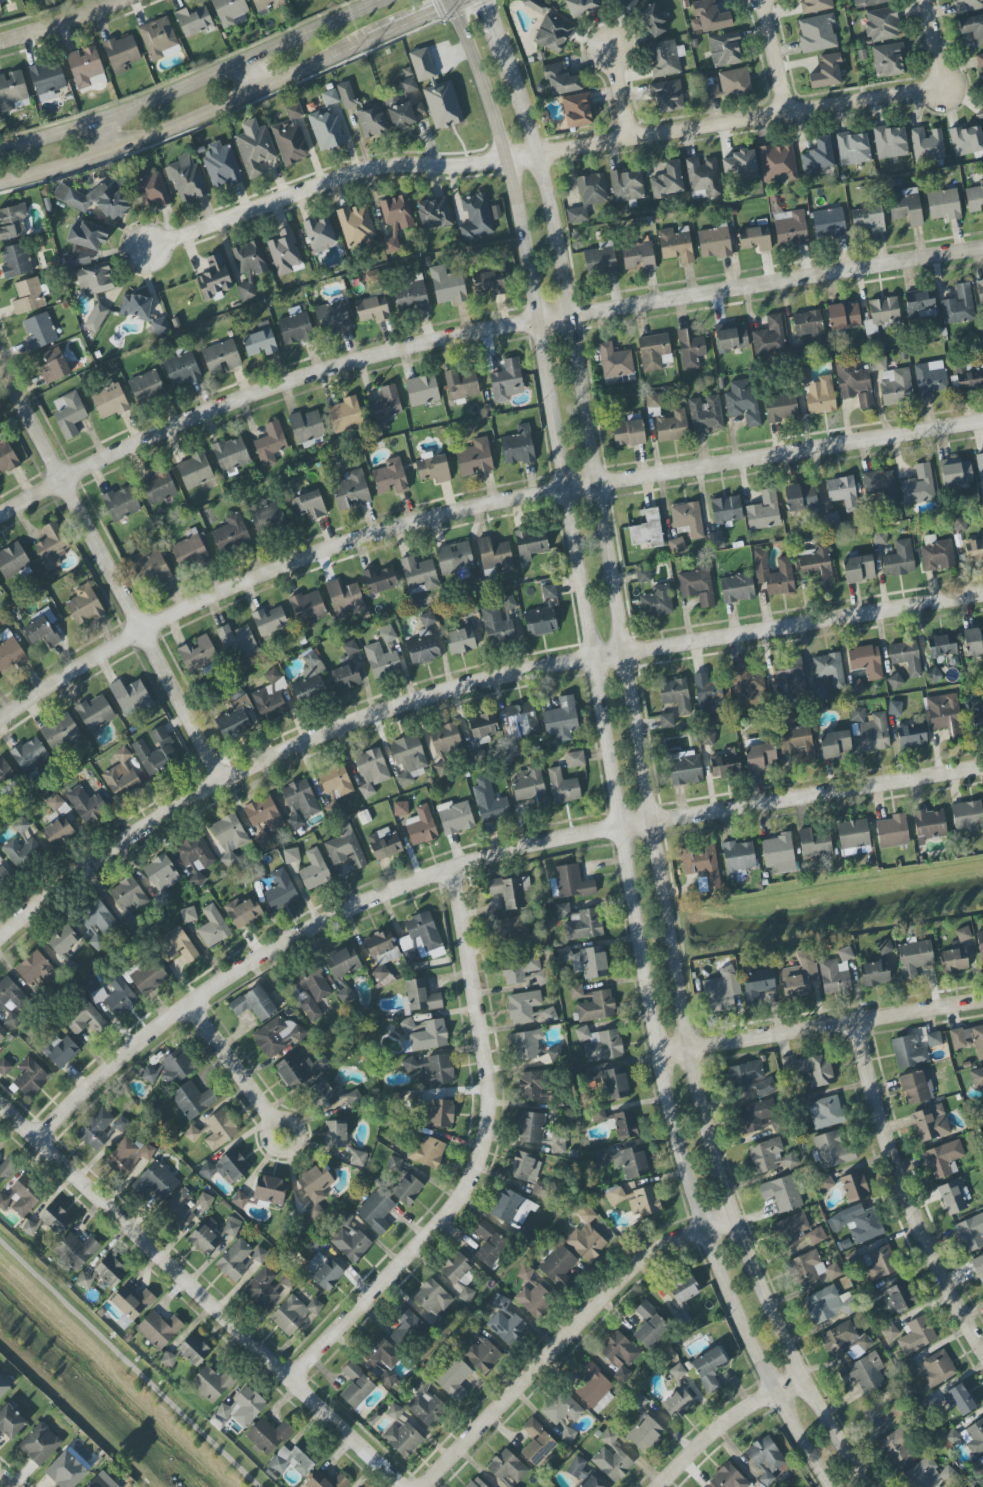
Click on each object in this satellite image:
road: (449, 2)
road: (456, 2)
building: (624, 3)
building: (868, 3)
building: (266, 5)
building: (535, 5)
building: (815, 5)
building: (967, 5)
building: (581, 7)
traffic signals: (488, 8)
building: (0, 9)
building: (229, 11)
traffic signals: (437, 11)
building: (708, 17)
building: (653, 20)
building: (194, 21)
road: (60, 22)
road: (409, 23)
building: (882, 25)
road: (494, 27)
building: (973, 28)
building: (816, 33)
building: (552, 34)
building: (159, 39)
road: (934, 44)
building: (724, 50)
building: (121, 53)
road: (777, 55)
building: (665, 58)
building: (888, 60)
building: (981, 63)
building: (422, 65)
building: (84, 66)
building: (826, 72)
road: (253, 75)
building: (560, 79)
building: (47, 80)
building: (734, 82)
road: (195, 84)
building: (408, 85)
building: (12, 91)
building: (712, 91)
road: (621, 93)
building: (668, 95)
building: (443, 105)
building: (577, 110)
building: (363, 112)
building: (404, 113)
building: (980, 115)
road: (187, 121)
building: (326, 124)
road: (106, 136)
building: (290, 136)
building: (966, 140)
building: (890, 142)
building: (927, 144)
building: (254, 148)
building: (852, 148)
road: (541, 153)
building: (818, 156)
building: (777, 162)
building: (739, 165)
building: (221, 166)
building: (186, 179)
building: (668, 181)
building: (627, 185)
building: (152, 190)
building: (588, 196)
building: (974, 198)
building: (96, 199)
building: (943, 204)
building: (905, 206)
building: (397, 212)
building: (434, 214)
building: (476, 217)
building: (867, 220)
building: (12, 222)
building: (828, 224)
building: (356, 225)
building: (790, 229)
building: (319, 235)
building: (88, 236)
building: (755, 238)
building: (714, 243)
building: (676, 244)
building: (391, 245)
building: (285, 253)
building: (638, 257)
building: (78, 259)
building: (600, 260)
building: (15, 261)
building: (249, 267)
building: (214, 278)
building: (95, 279)
building: (487, 284)
building: (447, 286)
building: (980, 292)
building: (28, 296)
building: (411, 297)
building: (919, 305)
building: (958, 306)
building: (372, 309)
building: (141, 311)
building: (332, 316)
building: (843, 316)
building: (881, 317)
building: (95, 318)
building: (294, 324)
building: (809, 326)
building: (39, 331)
road: (476, 335)
building: (770, 336)
building: (731, 337)
building: (260, 341)
building: (690, 349)
building: (654, 352)
building: (221, 358)
building: (615, 361)
building: (878, 363)
building: (54, 366)
building: (181, 370)
building: (804, 375)
building: (930, 379)
building: (969, 379)
building: (507, 381)
building: (854, 383)
building: (462, 384)
building: (146, 387)
building: (422, 390)
building: (821, 397)
building: (110, 401)
building: (742, 401)
building: (384, 407)
building: (781, 407)
building: (69, 414)
building: (705, 414)
building: (345, 415)
building: (668, 422)
building: (306, 426)
building: (628, 433)
building: (270, 444)
building: (518, 447)
building: (231, 455)
building: (6, 456)
building: (475, 458)
building: (433, 469)
building: (980, 469)
building: (956, 471)
building: (194, 473)
building: (390, 478)
building: (879, 483)
building: (919, 485)
building: (158, 487)
building: (351, 489)
building: (842, 492)
building: (801, 498)
building: (121, 503)
building: (309, 504)
building: (726, 510)
building: (764, 511)
road: (471, 513)
building: (267, 518)
building: (687, 518)
building: (831, 521)
building: (648, 530)
building: (231, 534)
building: (715, 539)
building: (530, 545)
building: (51, 546)
building: (676, 546)
building: (974, 549)
building: (190, 550)
building: (937, 554)
building: (495, 555)
building: (454, 557)
building: (899, 559)
building: (13, 561)
road: (110, 563)
building: (816, 564)
building: (150, 567)
building: (858, 569)
building: (773, 574)
building: (419, 575)
building: (643, 576)
building: (379, 580)
building: (697, 587)
building: (737, 587)
building: (345, 599)
building: (656, 602)
building: (84, 605)
building: (308, 609)
building: (542, 615)
building: (428, 619)
building: (269, 621)
building: (500, 621)
building: (42, 630)
building: (237, 640)
building: (461, 641)
building: (973, 641)
building: (941, 645)
building: (350, 648)
building: (423, 649)
building: (10, 652)
building: (382, 653)
building: (198, 654)
building: (906, 657)
building: (866, 661)
building: (829, 669)
building: (792, 676)
building: (345, 677)
building: (310, 680)
building: (895, 682)
building: (747, 685)
road: (460, 688)
building: (856, 688)
building: (706, 692)
building: (818, 694)
building: (675, 695)
building: (270, 697)
building: (131, 698)
building: (895, 708)
building: (975, 711)
building: (95, 713)
building: (943, 715)
building: (235, 719)
building: (561, 720)
building: (666, 721)
building: (521, 724)
building: (483, 727)
building: (871, 730)
building: (61, 733)
building: (911, 736)
building: (445, 739)
building: (706, 739)
building: (798, 743)
building: (835, 744)
building: (164, 747)
building: (30, 755)
building: (760, 757)
road: (603, 758)
building: (409, 759)
building: (575, 759)
building: (725, 763)
building: (685, 768)
building: (371, 771)
building: (5, 772)
building: (122, 777)
building: (335, 781)
road: (645, 784)
building: (530, 786)
building: (563, 787)
building: (489, 802)
building: (300, 803)
building: (56, 805)
building: (85, 806)
building: (400, 809)
building: (264, 814)
building: (968, 816)
building: (455, 817)
building: (929, 825)
building: (421, 826)
building: (892, 831)
building: (58, 833)
building: (229, 837)
building: (854, 837)
building: (261, 840)
building: (815, 843)
building: (21, 845)
building: (384, 845)
building: (346, 848)
building: (779, 853)
building: (291, 856)
building: (195, 857)
building: (738, 859)
road: (472, 862)
building: (702, 864)
building: (314, 871)
building: (2, 877)
building: (161, 877)
building: (570, 882)
building: (280, 890)
building: (510, 891)
building: (129, 894)
building: (243, 912)
building: (188, 915)
building: (97, 917)
building: (579, 922)
building: (213, 927)
building: (513, 929)
building: (420, 937)
building: (63, 944)
building: (980, 945)
building: (176, 946)
building: (885, 947)
building: (381, 951)
building: (845, 954)
building: (955, 954)
building: (914, 958)
building: (588, 960)
building: (343, 963)
building: (35, 970)
building: (523, 970)
building: (875, 973)
building: (799, 976)
building: (148, 977)
building: (834, 977)
building: (92, 985)
building: (757, 990)
building: (721, 991)
building: (311, 992)
building: (119, 996)
building: (345, 996)
building: (11, 1000)
building: (593, 1003)
building: (254, 1004)
building: (523, 1007)
building: (550, 1015)
building: (86, 1019)
building: (407, 1026)
road: (820, 1027)
building: (2, 1032)
building: (277, 1036)
building: (427, 1037)
building: (933, 1039)
building: (968, 1039)
building: (600, 1044)
building: (526, 1045)
building: (63, 1052)
building: (909, 1052)
road: (231, 1061)
building: (4, 1067)
building: (171, 1068)
building: (298, 1069)
building: (811, 1069)
building: (431, 1070)
building: (30, 1078)
building: (977, 1078)
building: (751, 1079)
building: (615, 1083)
building: (530, 1086)
building: (917, 1087)
building: (323, 1095)
building: (355, 1097)
building: (193, 1100)
building: (824, 1112)
building: (441, 1113)
building: (598, 1115)
building: (755, 1115)
building: (930, 1123)
building: (625, 1125)
building: (531, 1128)
building: (96, 1130)
building: (220, 1130)
road: (265, 1133)
building: (193, 1134)
building: (335, 1134)
building: (832, 1150)
building: (427, 1152)
building: (765, 1155)
building: (127, 1157)
road: (484, 1157)
building: (358, 1158)
building: (943, 1159)
building: (626, 1161)
building: (394, 1164)
building: (226, 1167)
building: (524, 1167)
building: (6, 1170)
building: (156, 1181)
building: (854, 1187)
building: (315, 1188)
building: (539, 1189)
building: (269, 1190)
building: (407, 1190)
building: (782, 1193)
road: (904, 1193)
building: (24, 1197)
building: (615, 1197)
building: (953, 1197)
building: (239, 1200)
building: (4, 1201)
building: (644, 1201)
building: (511, 1208)
building: (178, 1210)
building: (376, 1211)
building: (55, 1218)
building: (857, 1223)
building: (232, 1227)
building: (29, 1228)
building: (790, 1230)
building: (971, 1232)
building: (816, 1236)
building: (205, 1237)
building: (586, 1237)
building: (351, 1240)
building: (490, 1244)
building: (77, 1250)
building: (259, 1255)
building: (234, 1261)
building: (880, 1263)
building: (558, 1266)
building: (807, 1267)
building: (978, 1267)
building: (456, 1268)
building: (323, 1270)
building: (110, 1271)
building: (833, 1271)
building: (525, 1273)
building: (86, 1280)
building: (683, 1288)
building: (262, 1289)
road: (202, 1295)
building: (432, 1298)
building: (533, 1299)
building: (898, 1299)
building: (132, 1302)
building: (500, 1303)
building: (827, 1304)
building: (294, 1314)
building: (681, 1318)
building: (404, 1324)
building: (649, 1326)
building: (507, 1327)
building: (159, 1329)
building: (890, 1332)
road: (567, 1336)
building: (916, 1336)
building: (845, 1341)
building: (194, 1350)
building: (619, 1355)
building: (480, 1356)
building: (383, 1359)
building: (168, 1360)
road: (129, 1364)
building: (709, 1369)
building: (937, 1369)
building: (677, 1372)
building: (864, 1374)
building: (454, 1379)
building: (212, 1384)
building: (3, 1386)
building: (356, 1386)
building: (960, 1399)
building: (680, 1401)
building: (425, 1404)
building: (242, 1408)
building: (562, 1408)
building: (11, 1422)
road: (723, 1425)
building: (644, 1427)
building: (401, 1433)
building: (269, 1435)
building: (568, 1435)
building: (969, 1438)
building: (537, 1443)
building: (40, 1444)
building: (896, 1446)
building: (611, 1459)
building: (981, 1459)
building: (294, 1460)
building: (765, 1460)
building: (507, 1468)
building: (66, 1471)
building: (581, 1474)
building: (928, 1474)
building: (728, 1478)
building: (982, 1479)
building: (326, 1481)
building: (98, 1482)
road: (3, 1483)
building: (476, 1483)
building: (953, 1485)

